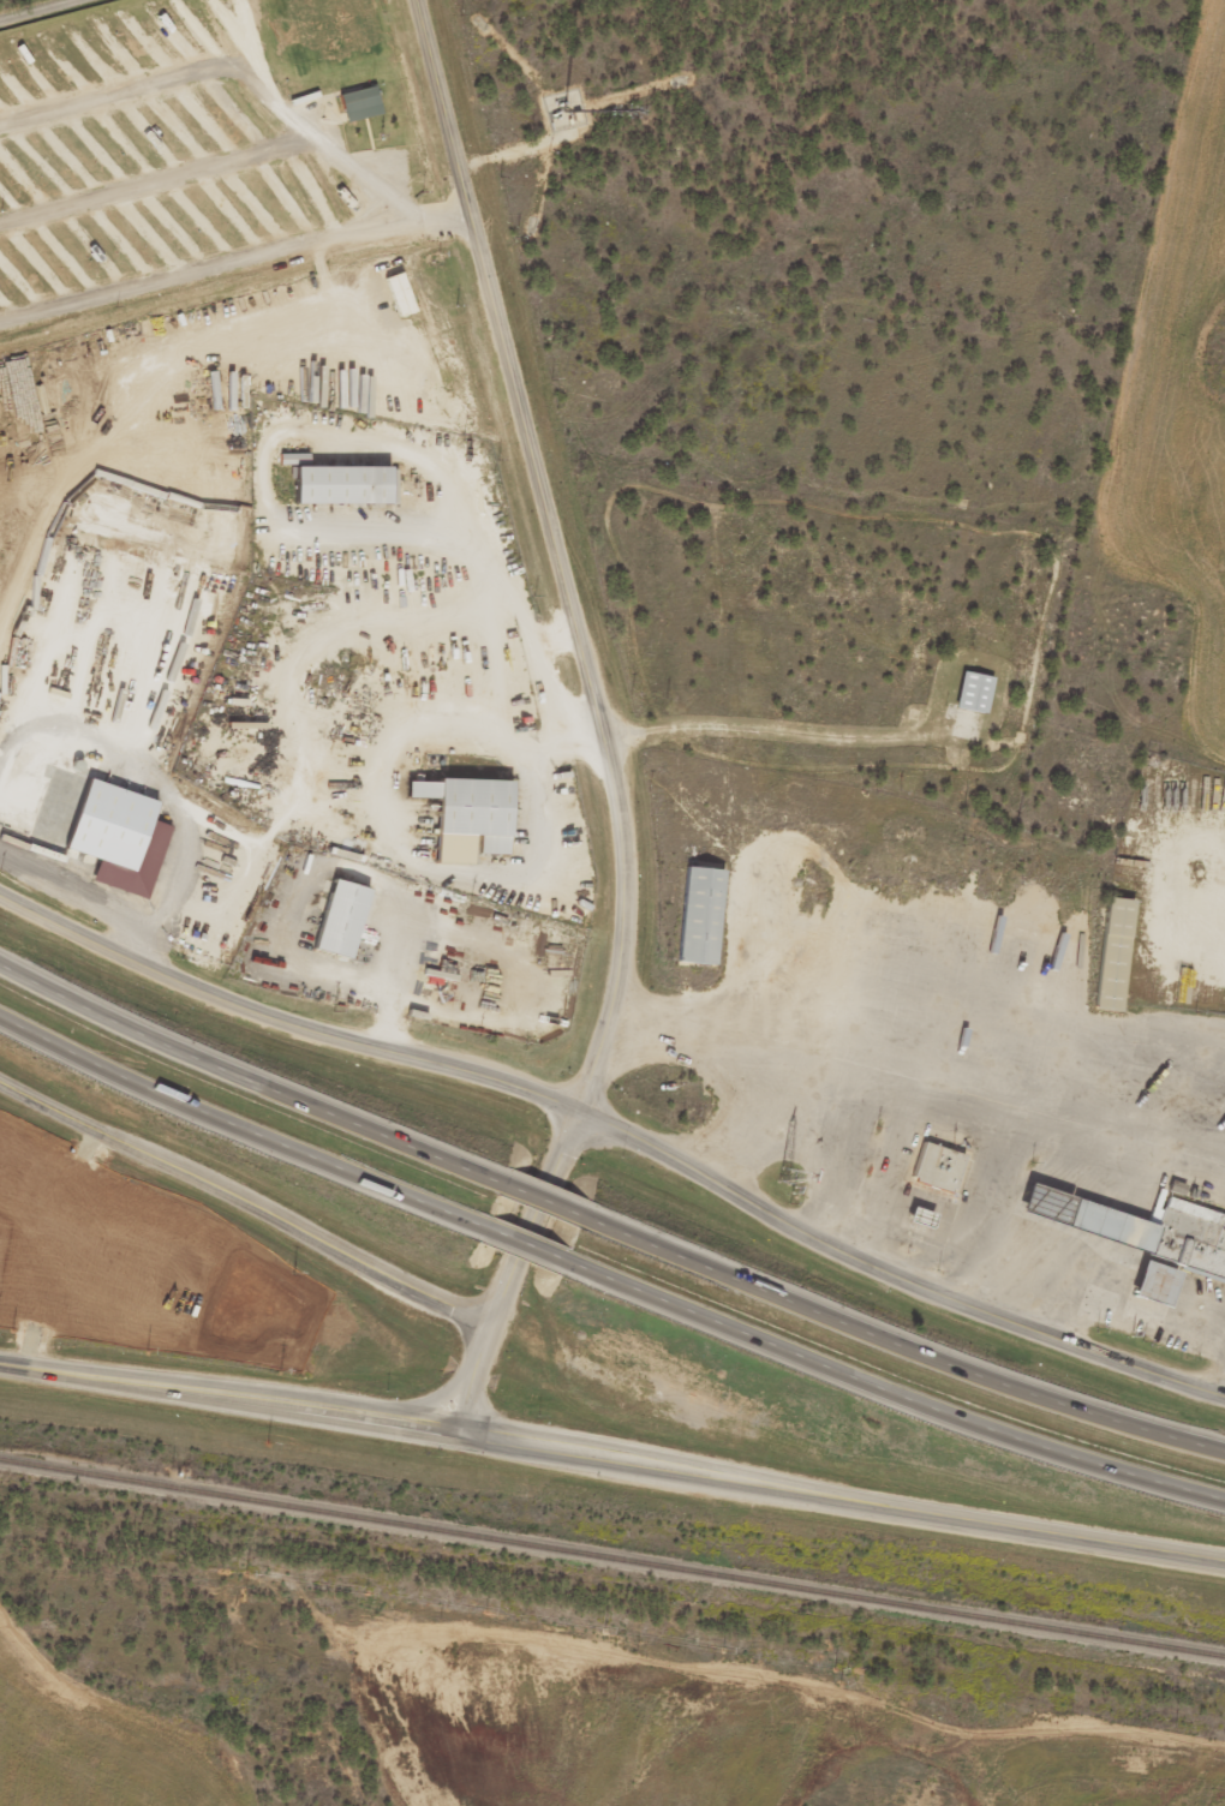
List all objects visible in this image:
road: (59, 16)
road: (231, 65)
building: (360, 102)
road: (156, 177)
road: (441, 208)
road: (208, 268)
building: (396, 303)
building: (431, 397)
building: (225, 456)
building: (291, 467)
building: (342, 485)
road: (558, 545)
building: (970, 700)
building: (468, 815)
building: (114, 847)
building: (697, 923)
building: (335, 927)
building: (1110, 963)
road: (280, 1022)
road: (244, 1087)
road: (237, 1134)
building: (933, 1177)
road: (244, 1202)
road: (536, 1208)
building: (1041, 1214)
gas station: (1041, 1214)
building: (915, 1225)
gas station: (915, 1225)
building: (1157, 1243)
road: (520, 1254)
road: (512, 1266)
road: (890, 1267)
building: (1151, 1293)
gas station: (1151, 1293)
road: (897, 1354)
road: (227, 1397)
road: (891, 1398)
road: (839, 1495)
railway: (611, 1557)

